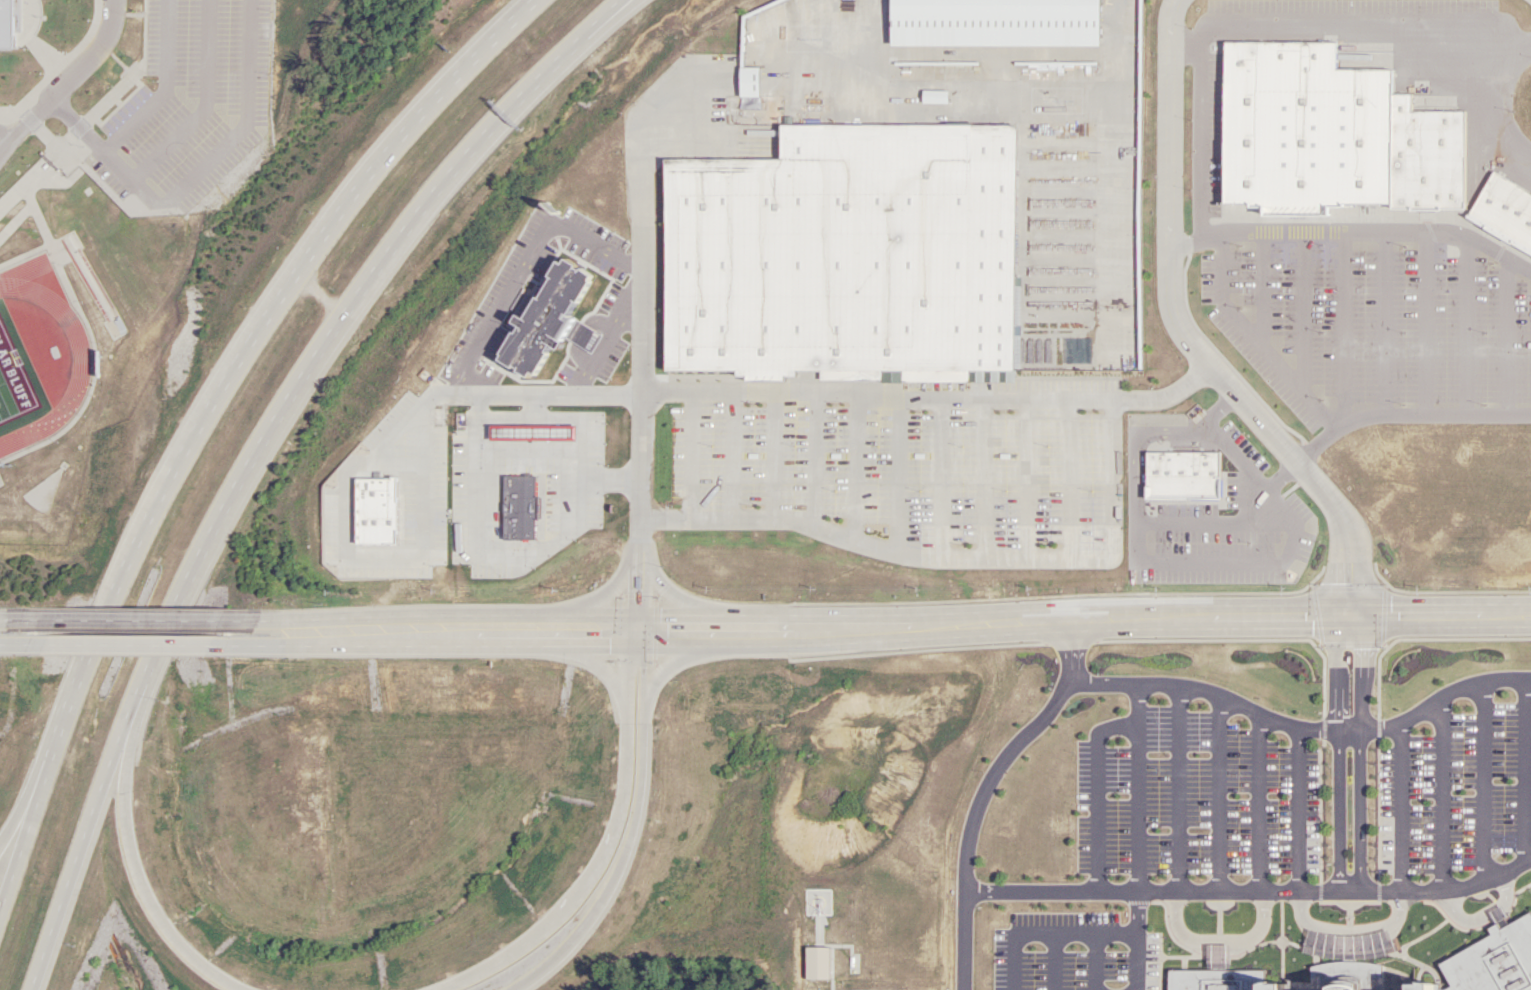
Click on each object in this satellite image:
road: (89, 48)
road: (26, 96)
road: (430, 109)
road: (26, 119)
road: (494, 130)
building: (1489, 149)
building: (1265, 247)
road: (312, 254)
building: (858, 255)
road: (356, 292)
road: (316, 298)
road: (258, 334)
road: (1187, 335)
road: (638, 343)
road: (310, 359)
park: (14, 380)
road: (928, 394)
building: (1287, 456)
building: (1087, 531)
building: (427, 551)
road: (950, 559)
road: (879, 621)
road: (143, 629)
road: (30, 630)
road: (97, 648)
building: (394, 675)
building: (1088, 679)
road: (141, 688)
building: (1158, 701)
building: (1511, 708)
building: (1249, 715)
road: (1298, 725)
building: (1109, 726)
building: (1154, 735)
road: (1341, 750)
road: (1365, 752)
road: (976, 790)
building: (1121, 796)
road: (29, 808)
road: (648, 832)
building: (1105, 849)
road: (614, 851)
road: (150, 888)
road: (1247, 890)
building: (1223, 918)

